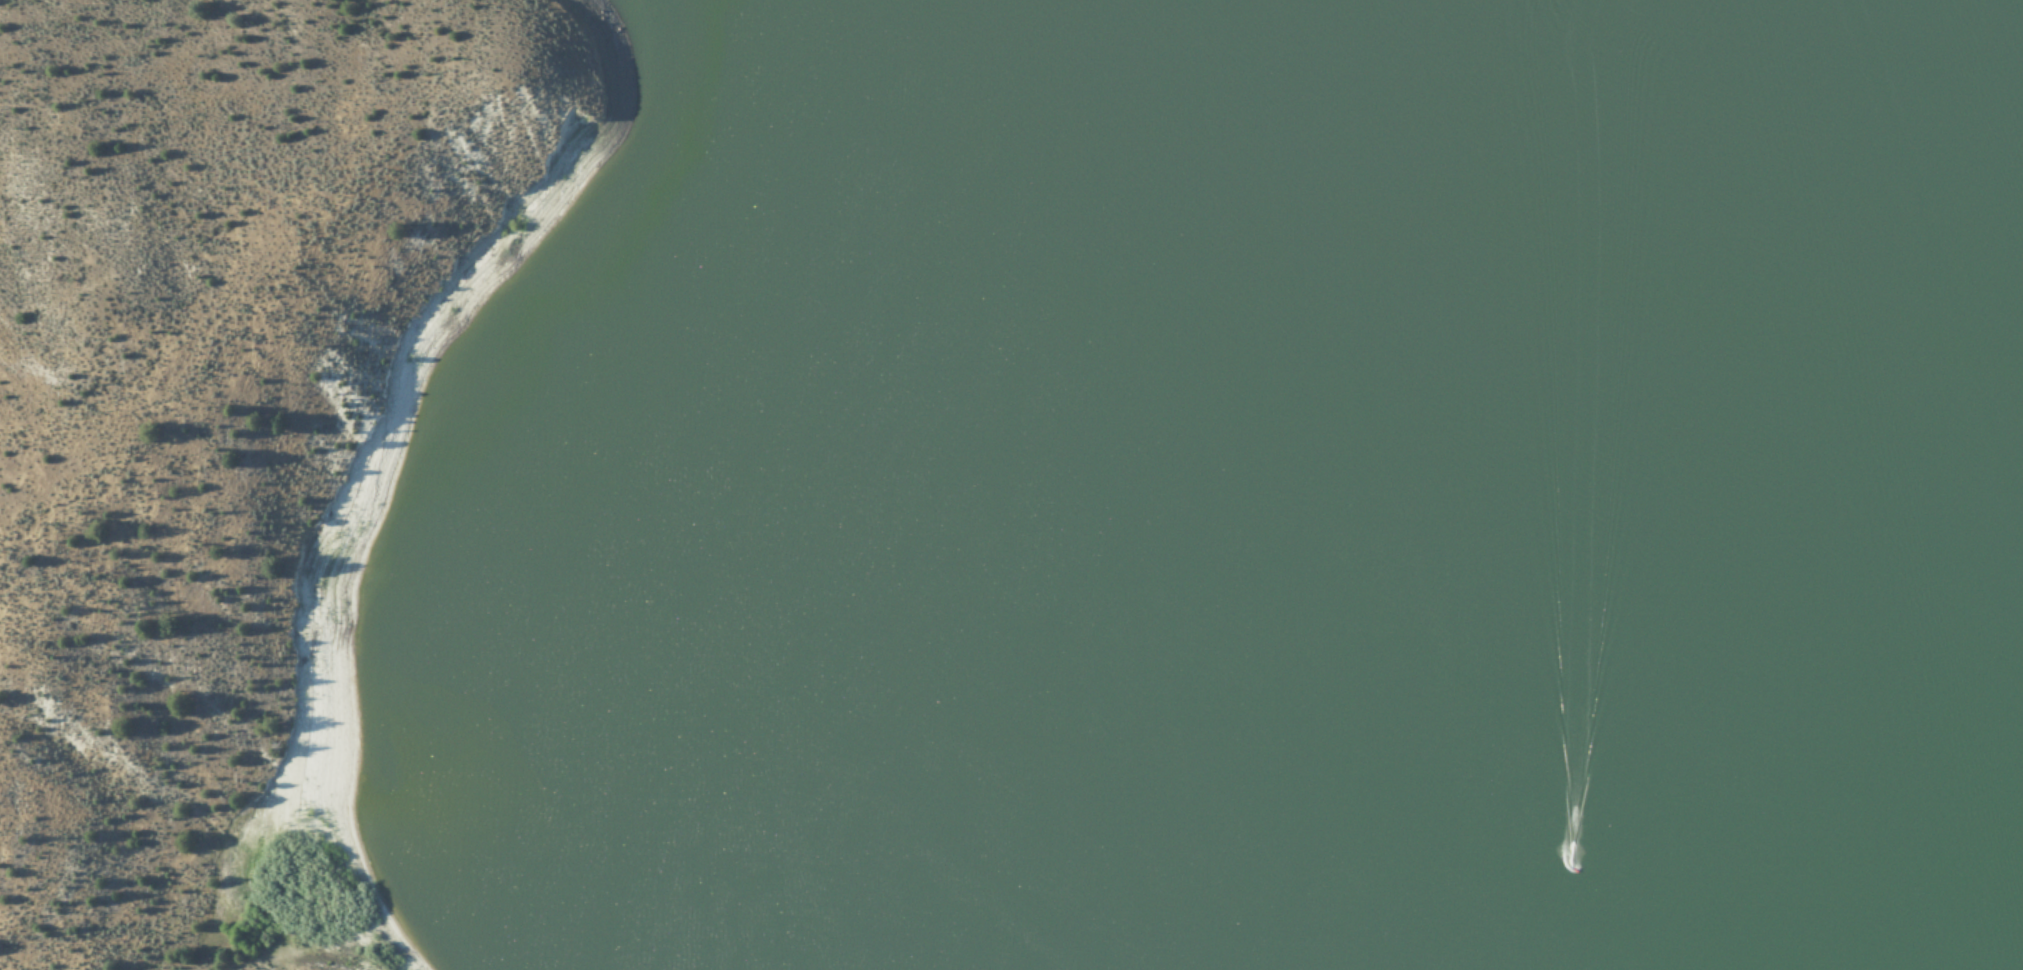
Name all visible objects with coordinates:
river: (2016, 872)

